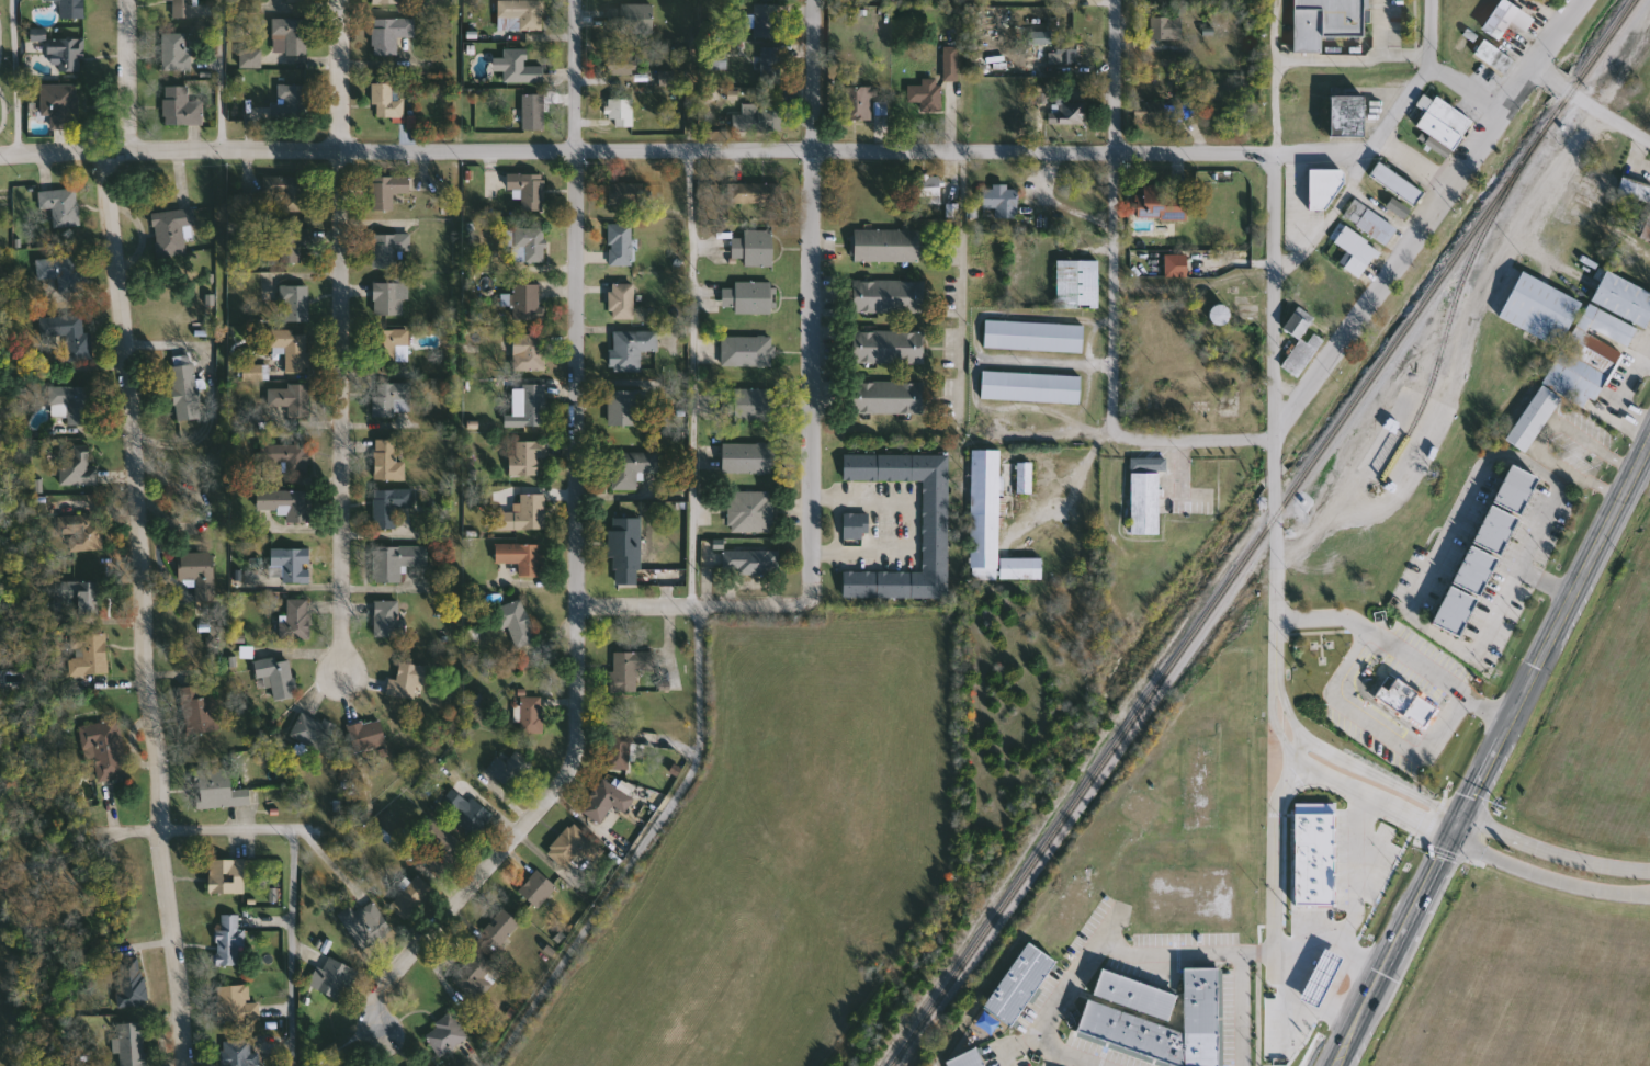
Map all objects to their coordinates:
building: (1165, 0)
building: (388, 1)
building: (298, 2)
building: (72, 9)
building: (183, 9)
building: (521, 14)
building: (633, 19)
building: (1507, 19)
building: (768, 21)
building: (1325, 22)
building: (1167, 27)
road: (1380, 29)
building: (391, 34)
building: (291, 36)
building: (1041, 37)
building: (174, 53)
building: (66, 54)
building: (1065, 56)
building: (1494, 57)
building: (251, 59)
road: (1348, 60)
building: (719, 61)
building: (621, 64)
building: (770, 64)
building: (951, 65)
building: (521, 68)
road: (126, 73)
road: (573, 73)
road: (1416, 73)
road: (339, 75)
road: (453, 75)
road: (810, 75)
road: (1114, 75)
road: (13, 76)
road: (1270, 76)
park: (4, 81)
road: (1461, 84)
road: (1510, 91)
building: (927, 94)
building: (295, 100)
building: (388, 100)
building: (858, 103)
road: (1587, 103)
building: (60, 105)
building: (182, 107)
road: (2, 109)
building: (1071, 111)
building: (621, 112)
building: (1149, 112)
building: (534, 115)
building: (1347, 116)
building: (759, 118)
building: (1442, 125)
road: (732, 148)
building: (1397, 183)
building: (1321, 188)
building: (529, 190)
building: (930, 190)
building: (1635, 190)
building: (284, 191)
building: (387, 191)
building: (755, 193)
building: (625, 194)
building: (1003, 201)
building: (244, 202)
building: (1162, 203)
building: (61, 206)
building: (1399, 208)
building: (1371, 222)
building: (172, 230)
building: (530, 245)
building: (621, 245)
building: (292, 246)
building: (888, 246)
building: (755, 248)
building: (389, 249)
building: (1357, 251)
building: (1176, 265)
building: (60, 269)
building: (1080, 284)
road: (1118, 293)
road: (1269, 295)
building: (889, 297)
building: (388, 298)
building: (748, 298)
building: (1624, 298)
building: (622, 302)
road: (689, 302)
building: (295, 304)
building: (528, 304)
building: (1540, 309)
road: (1357, 311)
building: (1220, 315)
building: (1297, 326)
building: (69, 336)
building: (1036, 337)
building: (889, 347)
railway: (1439, 347)
building: (393, 348)
building: (293, 349)
building: (632, 350)
building: (748, 352)
building: (530, 353)
building: (1590, 354)
road: (1048, 361)
road: (975, 365)
building: (253, 373)
road: (809, 377)
road: (958, 377)
building: (1032, 387)
building: (185, 392)
building: (889, 398)
building: (291, 399)
building: (393, 400)
building: (72, 404)
building: (535, 405)
building: (754, 405)
building: (631, 408)
road: (338, 413)
building: (1534, 419)
road: (221, 427)
road: (1195, 438)
building: (289, 457)
building: (528, 458)
building: (748, 458)
building: (388, 462)
building: (77, 467)
building: (632, 468)
building: (1146, 495)
building: (286, 504)
building: (391, 507)
road: (1460, 509)
building: (751, 512)
building: (524, 514)
road: (908, 521)
building: (857, 525)
building: (936, 525)
building: (992, 525)
building: (1494, 530)
building: (80, 532)
road: (456, 532)
railway: (1265, 534)
building: (626, 552)
building: (520, 557)
road: (1277, 557)
building: (397, 562)
building: (753, 563)
building: (293, 564)
building: (199, 572)
building: (84, 598)
road: (692, 604)
road: (137, 605)
building: (1453, 610)
building: (388, 619)
road: (574, 619)
building: (296, 620)
building: (517, 622)
road: (1400, 650)
building: (88, 655)
building: (629, 669)
building: (278, 676)
building: (407, 681)
railway: (1445, 691)
building: (1409, 702)
building: (199, 708)
building: (533, 715)
road: (1379, 725)
building: (312, 733)
building: (366, 736)
road: (1299, 746)
building: (105, 749)
building: (620, 751)
road: (1495, 755)
building: (512, 769)
road: (1381, 775)
building: (1323, 778)
road: (1300, 780)
road: (1285, 782)
building: (218, 792)
road: (1364, 795)
building: (607, 802)
building: (465, 813)
traffic signals: (1467, 815)
road: (237, 832)
traffic signals: (1455, 839)
building: (441, 846)
building: (568, 846)
road: (642, 848)
road: (81, 851)
road: (1555, 853)
building: (1311, 860)
road: (1274, 866)
building: (226, 877)
road: (1549, 877)
building: (538, 889)
building: (414, 893)
road: (1356, 896)
building: (364, 925)
building: (499, 930)
building: (230, 941)
road: (1311, 943)
road: (1093, 945)
road: (297, 948)
road: (1338, 976)
building: (474, 978)
building: (1321, 978)
building: (332, 979)
gas station: (1320, 980)
building: (131, 983)
building: (1019, 985)
road: (1315, 990)
building: (1134, 996)
building: (236, 1005)
road: (1244, 1008)
building: (1105, 1013)
building: (987, 1023)
building: (447, 1035)
building: (131, 1045)
building: (236, 1053)
building: (968, 1059)

